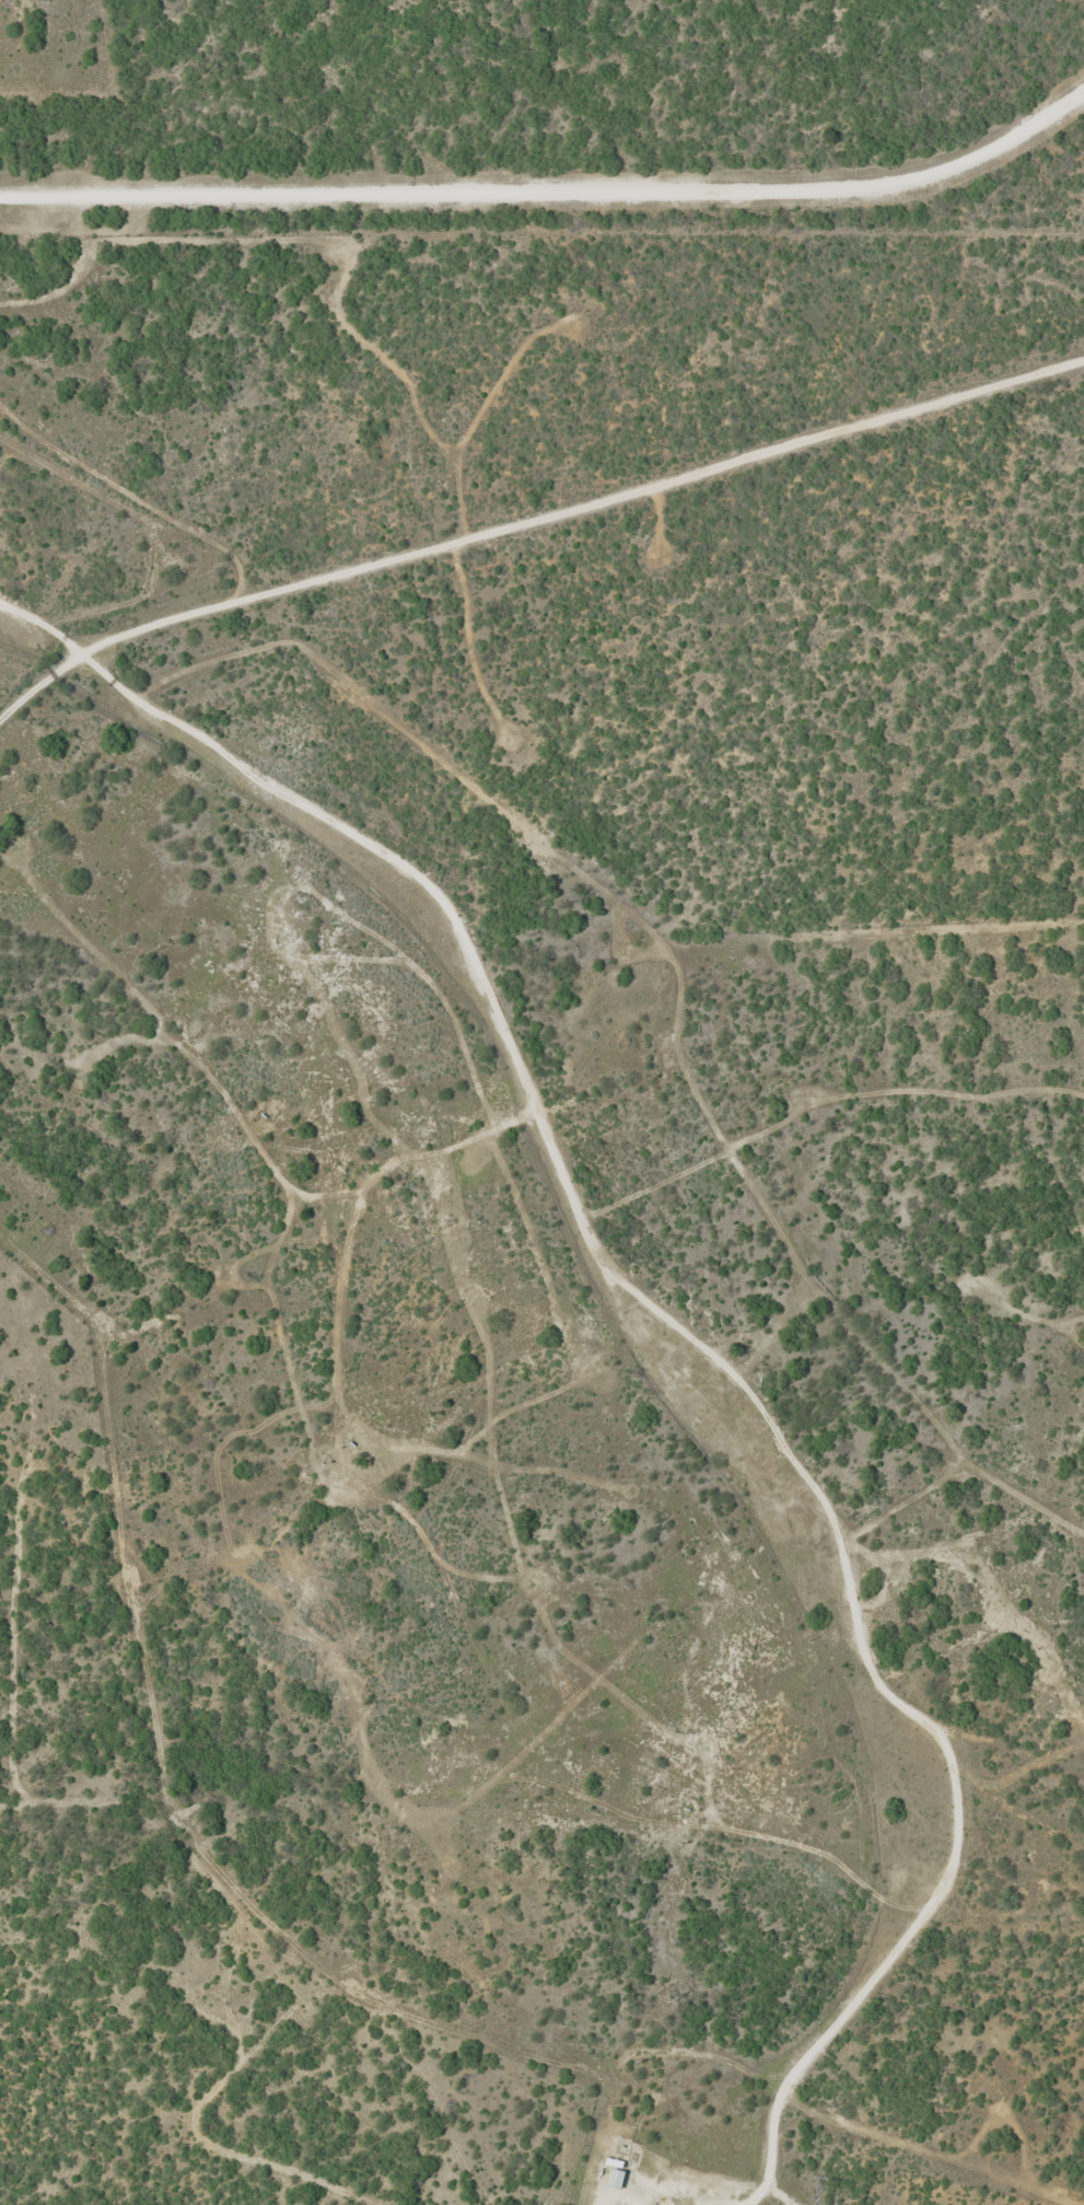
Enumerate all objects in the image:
road: (533, 519)
building: (615, 2172)

